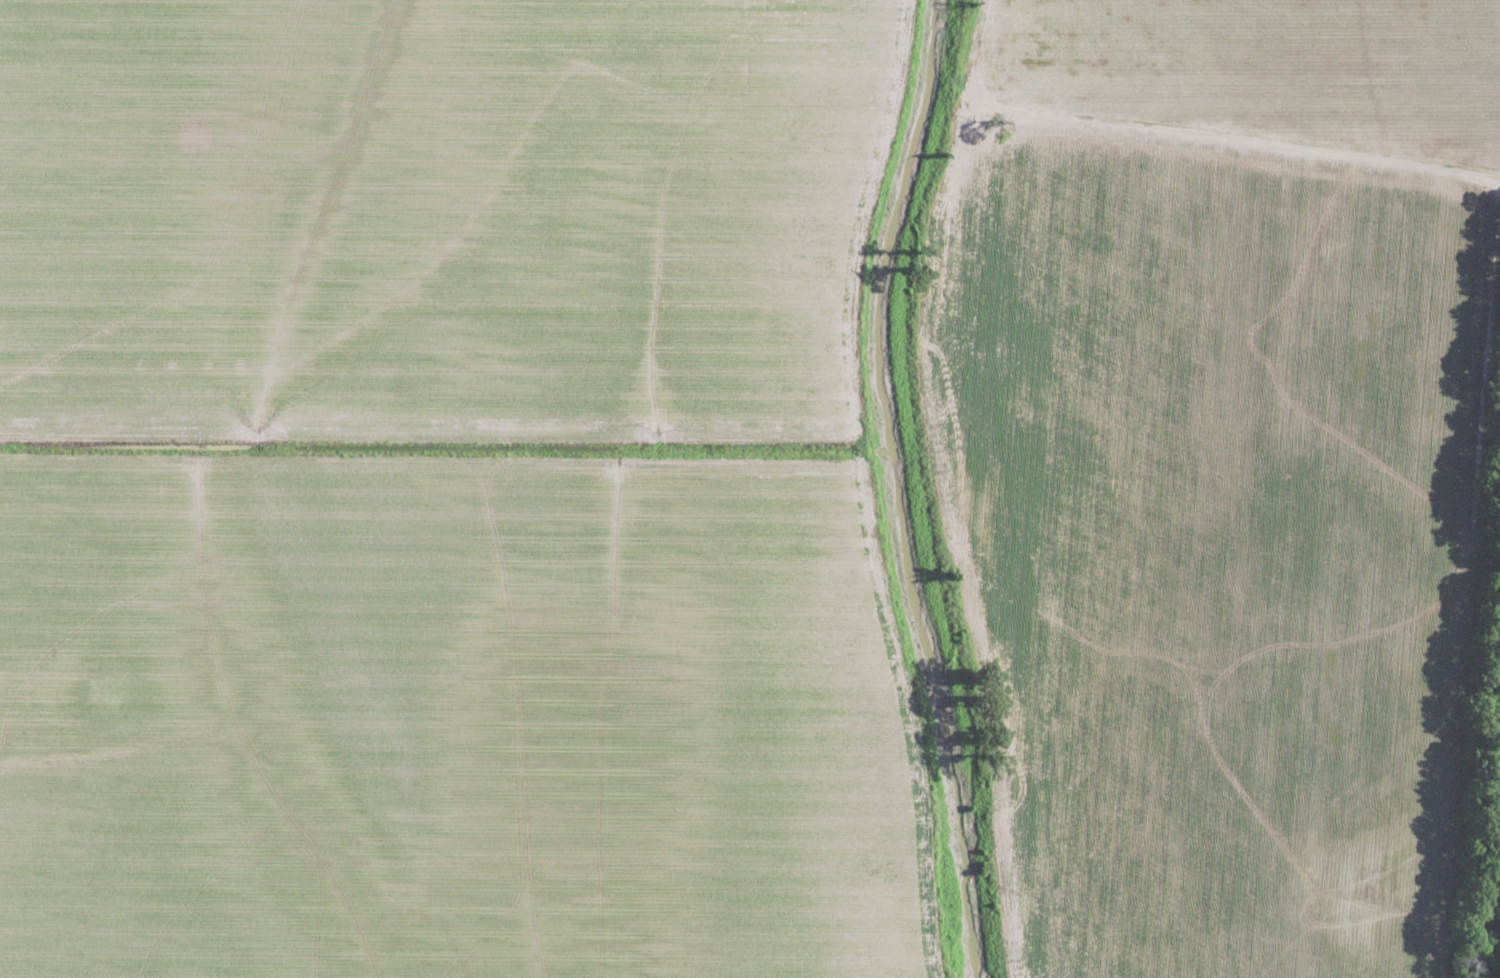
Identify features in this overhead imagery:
road: (1420, 165)
road: (947, 489)

